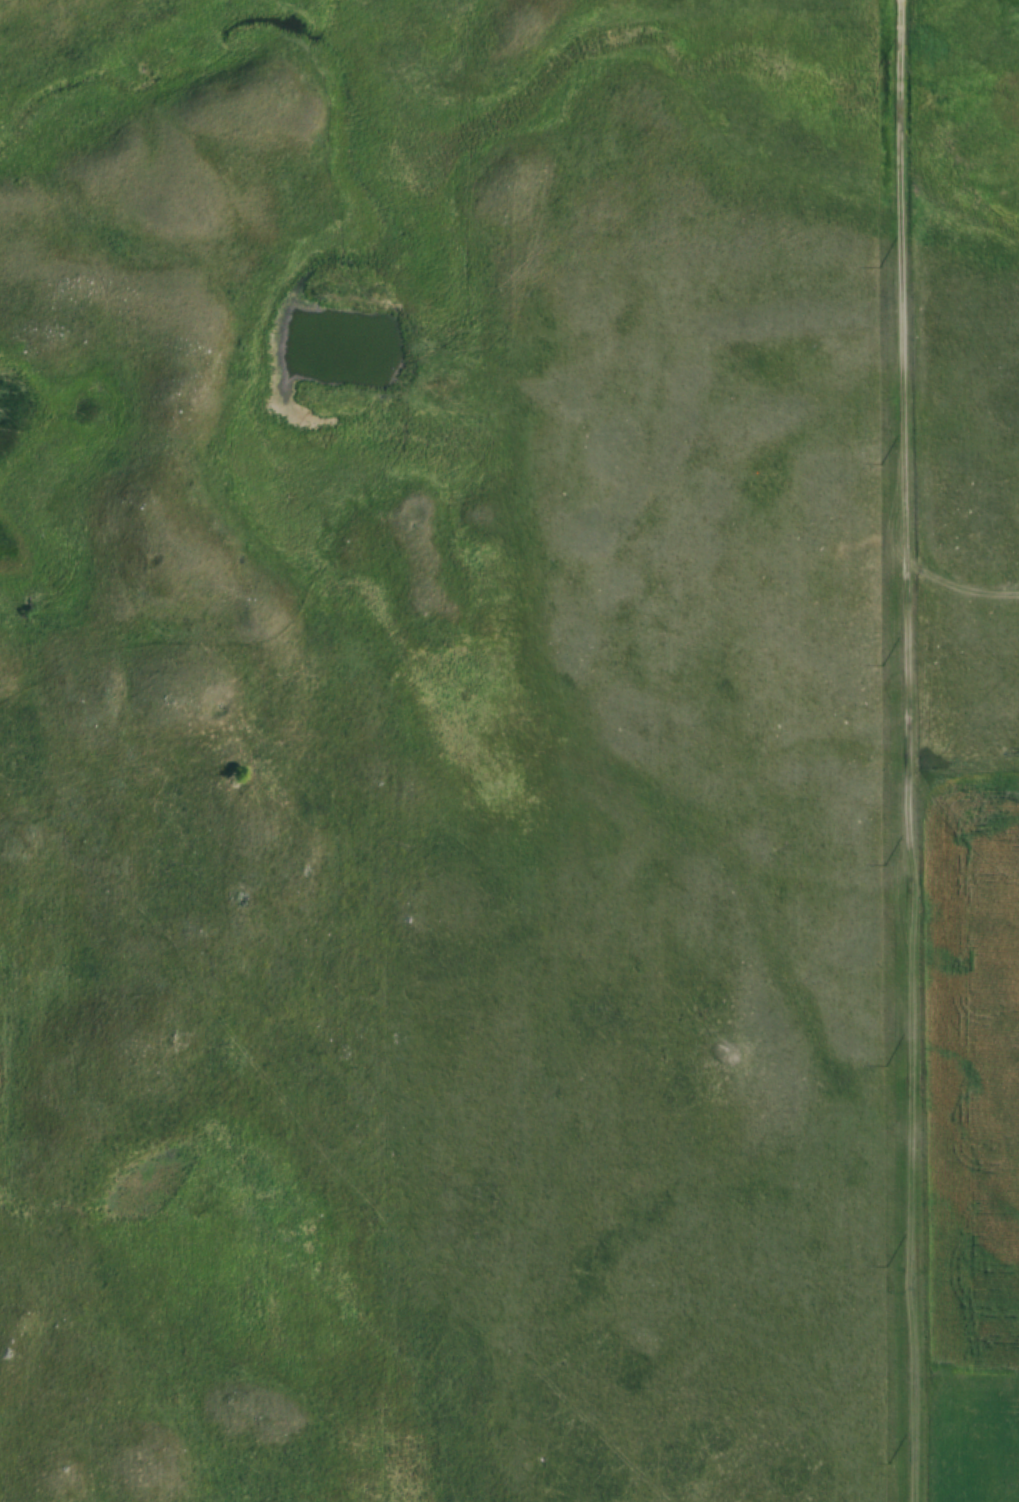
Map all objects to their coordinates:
road: (911, 750)

